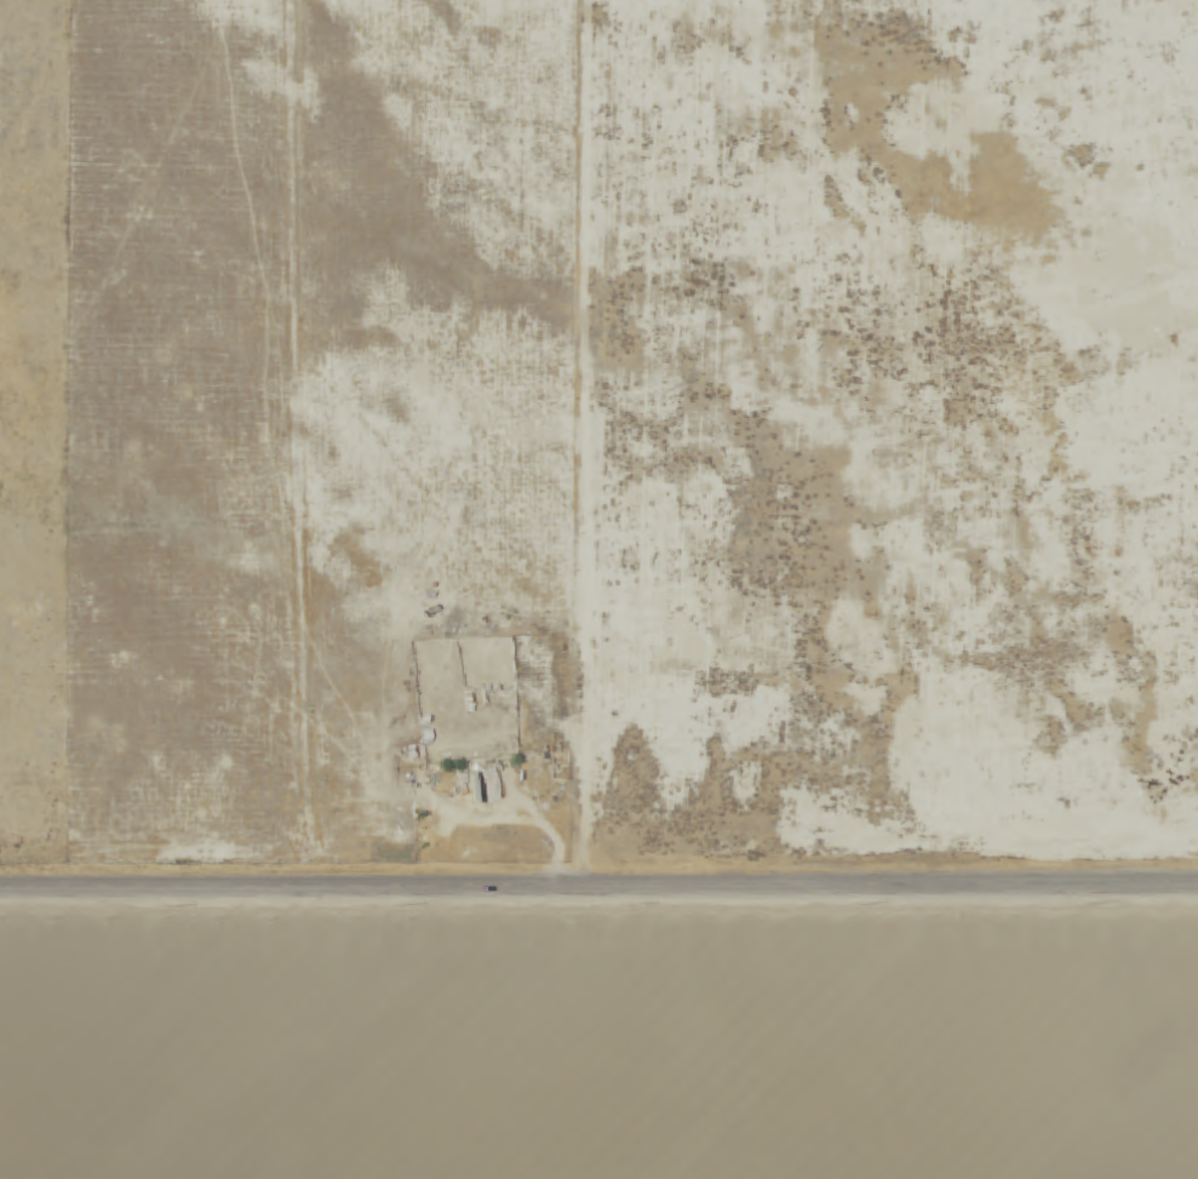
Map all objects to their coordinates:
building: (424, 740)
road: (598, 883)

